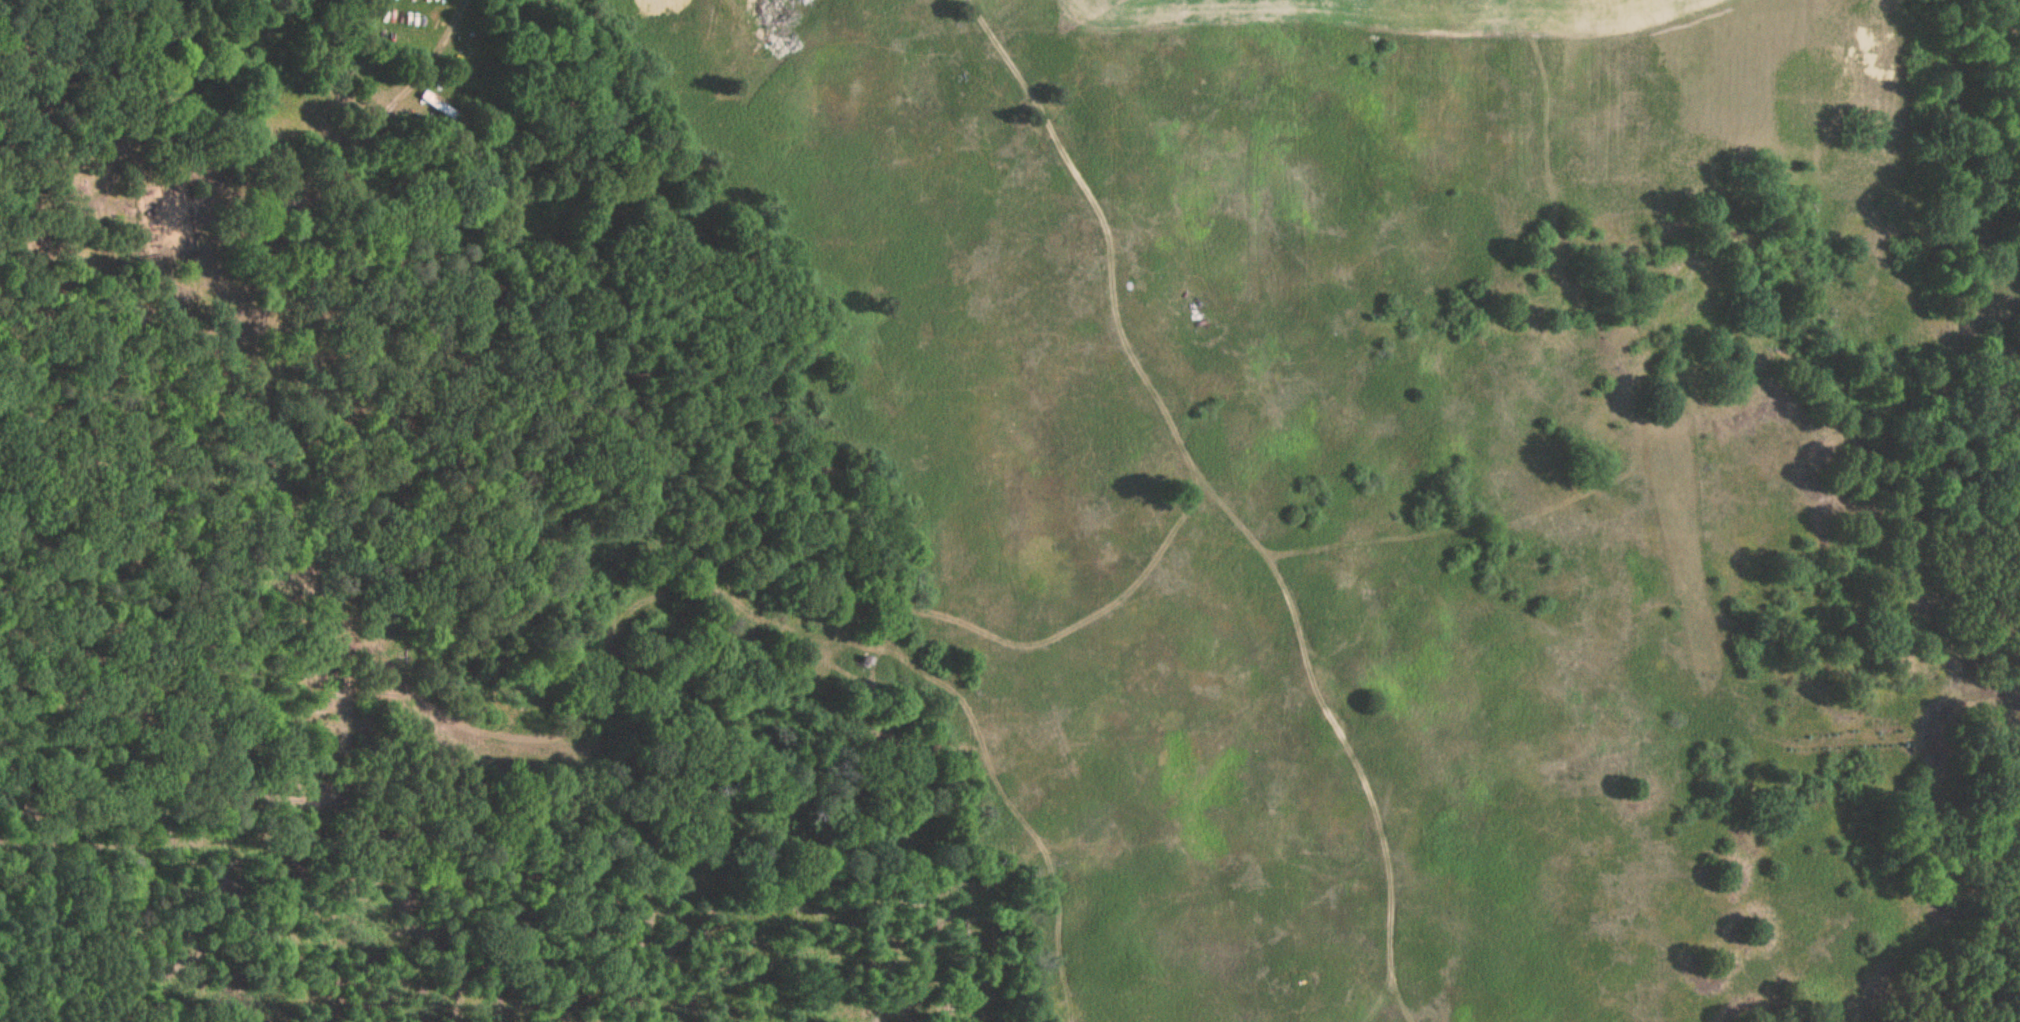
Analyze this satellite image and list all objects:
building: (863, 658)

